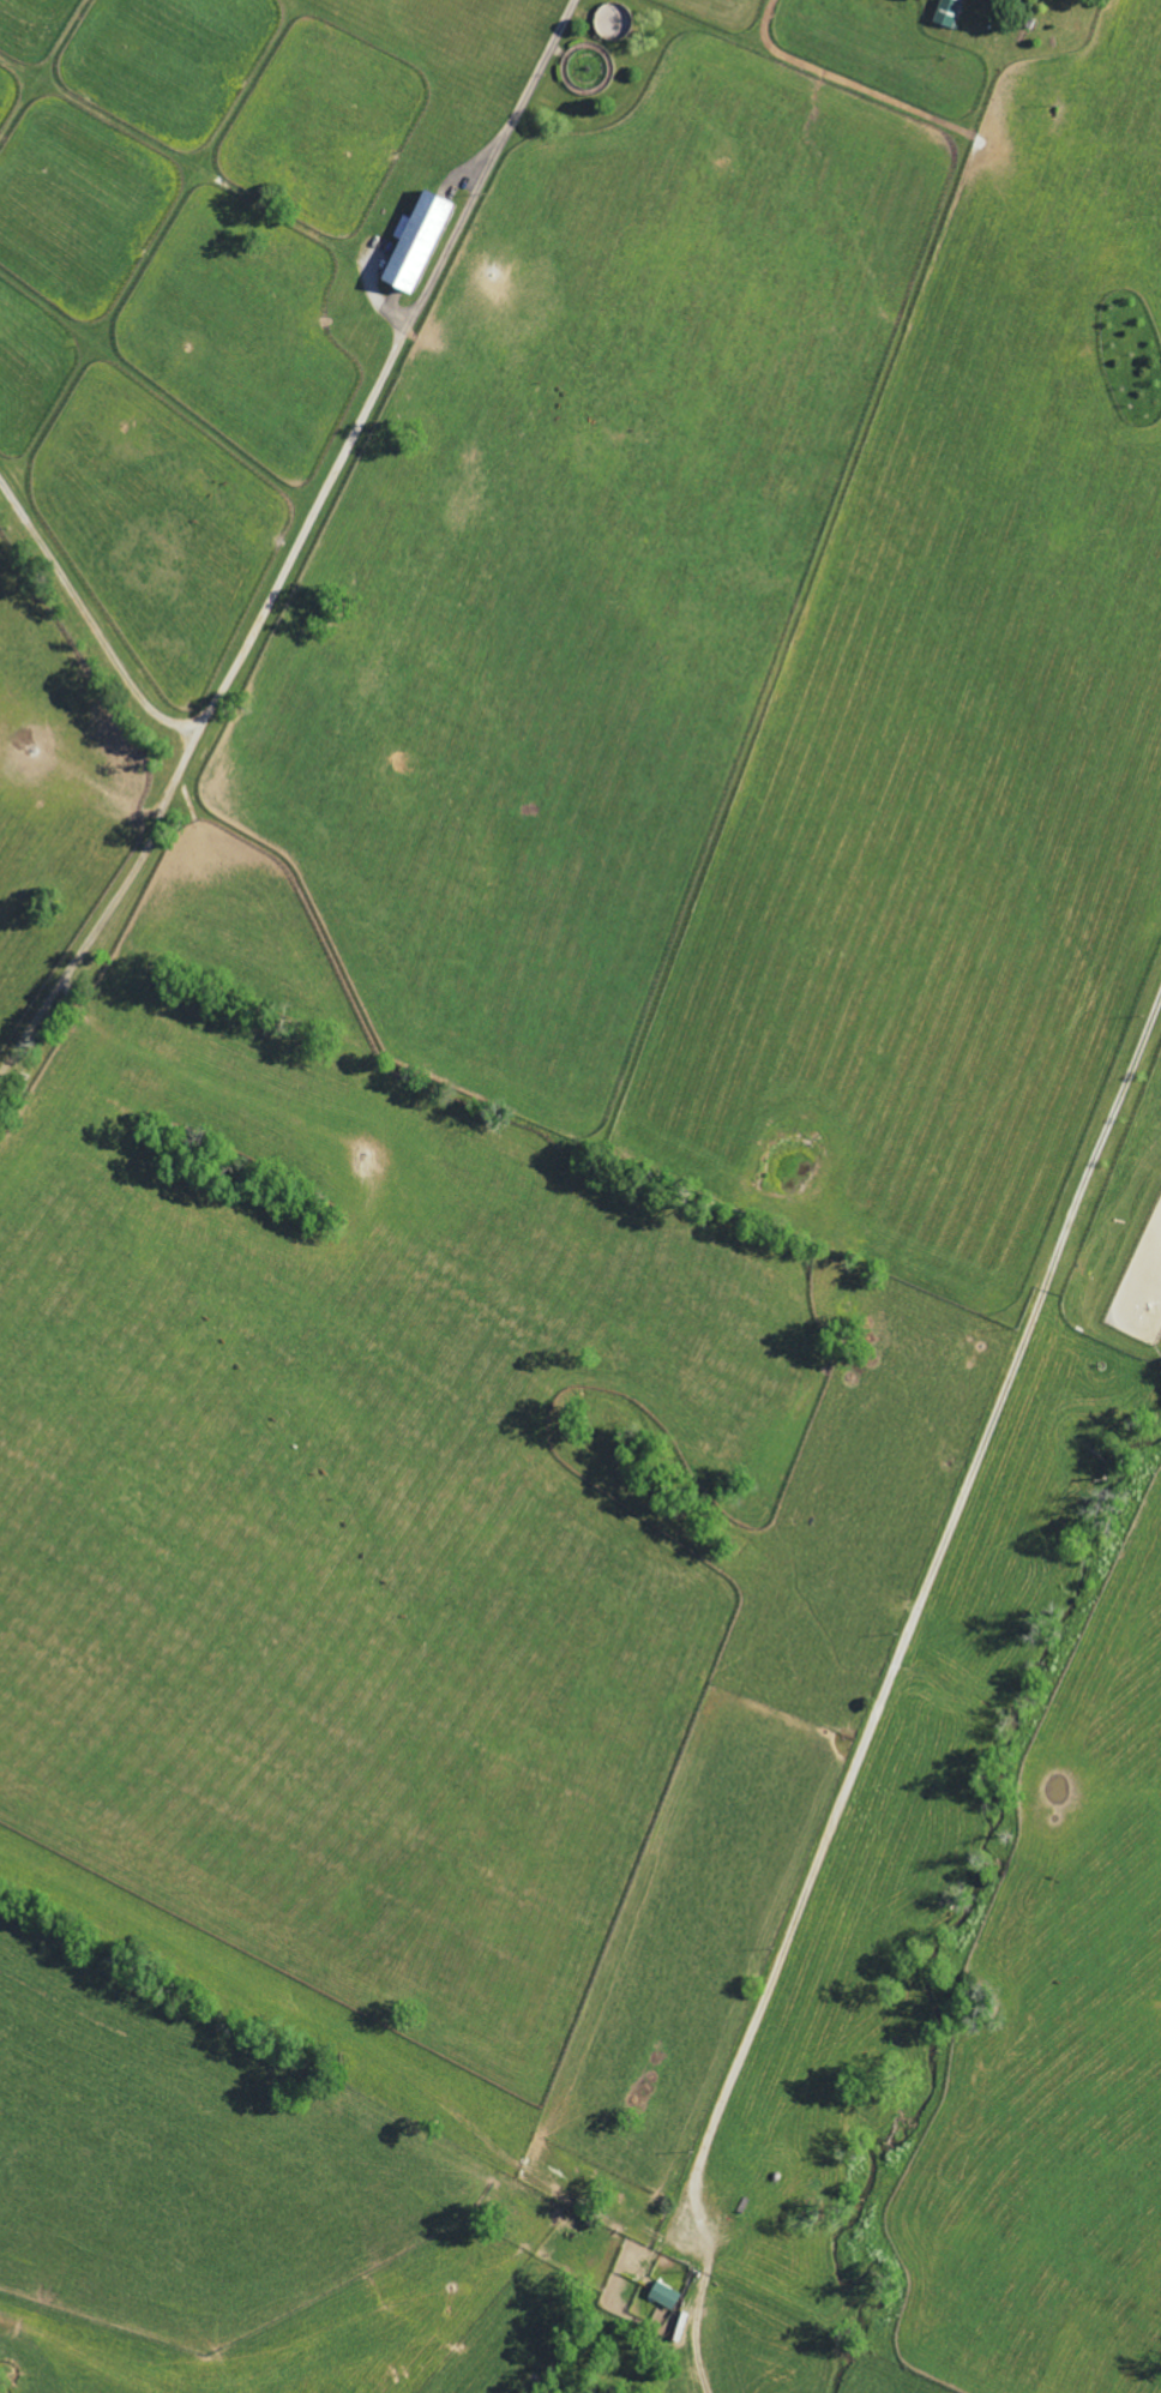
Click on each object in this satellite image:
building: (950, 13)
road: (534, 77)
building: (417, 245)
road: (898, 1706)
building: (666, 2296)

